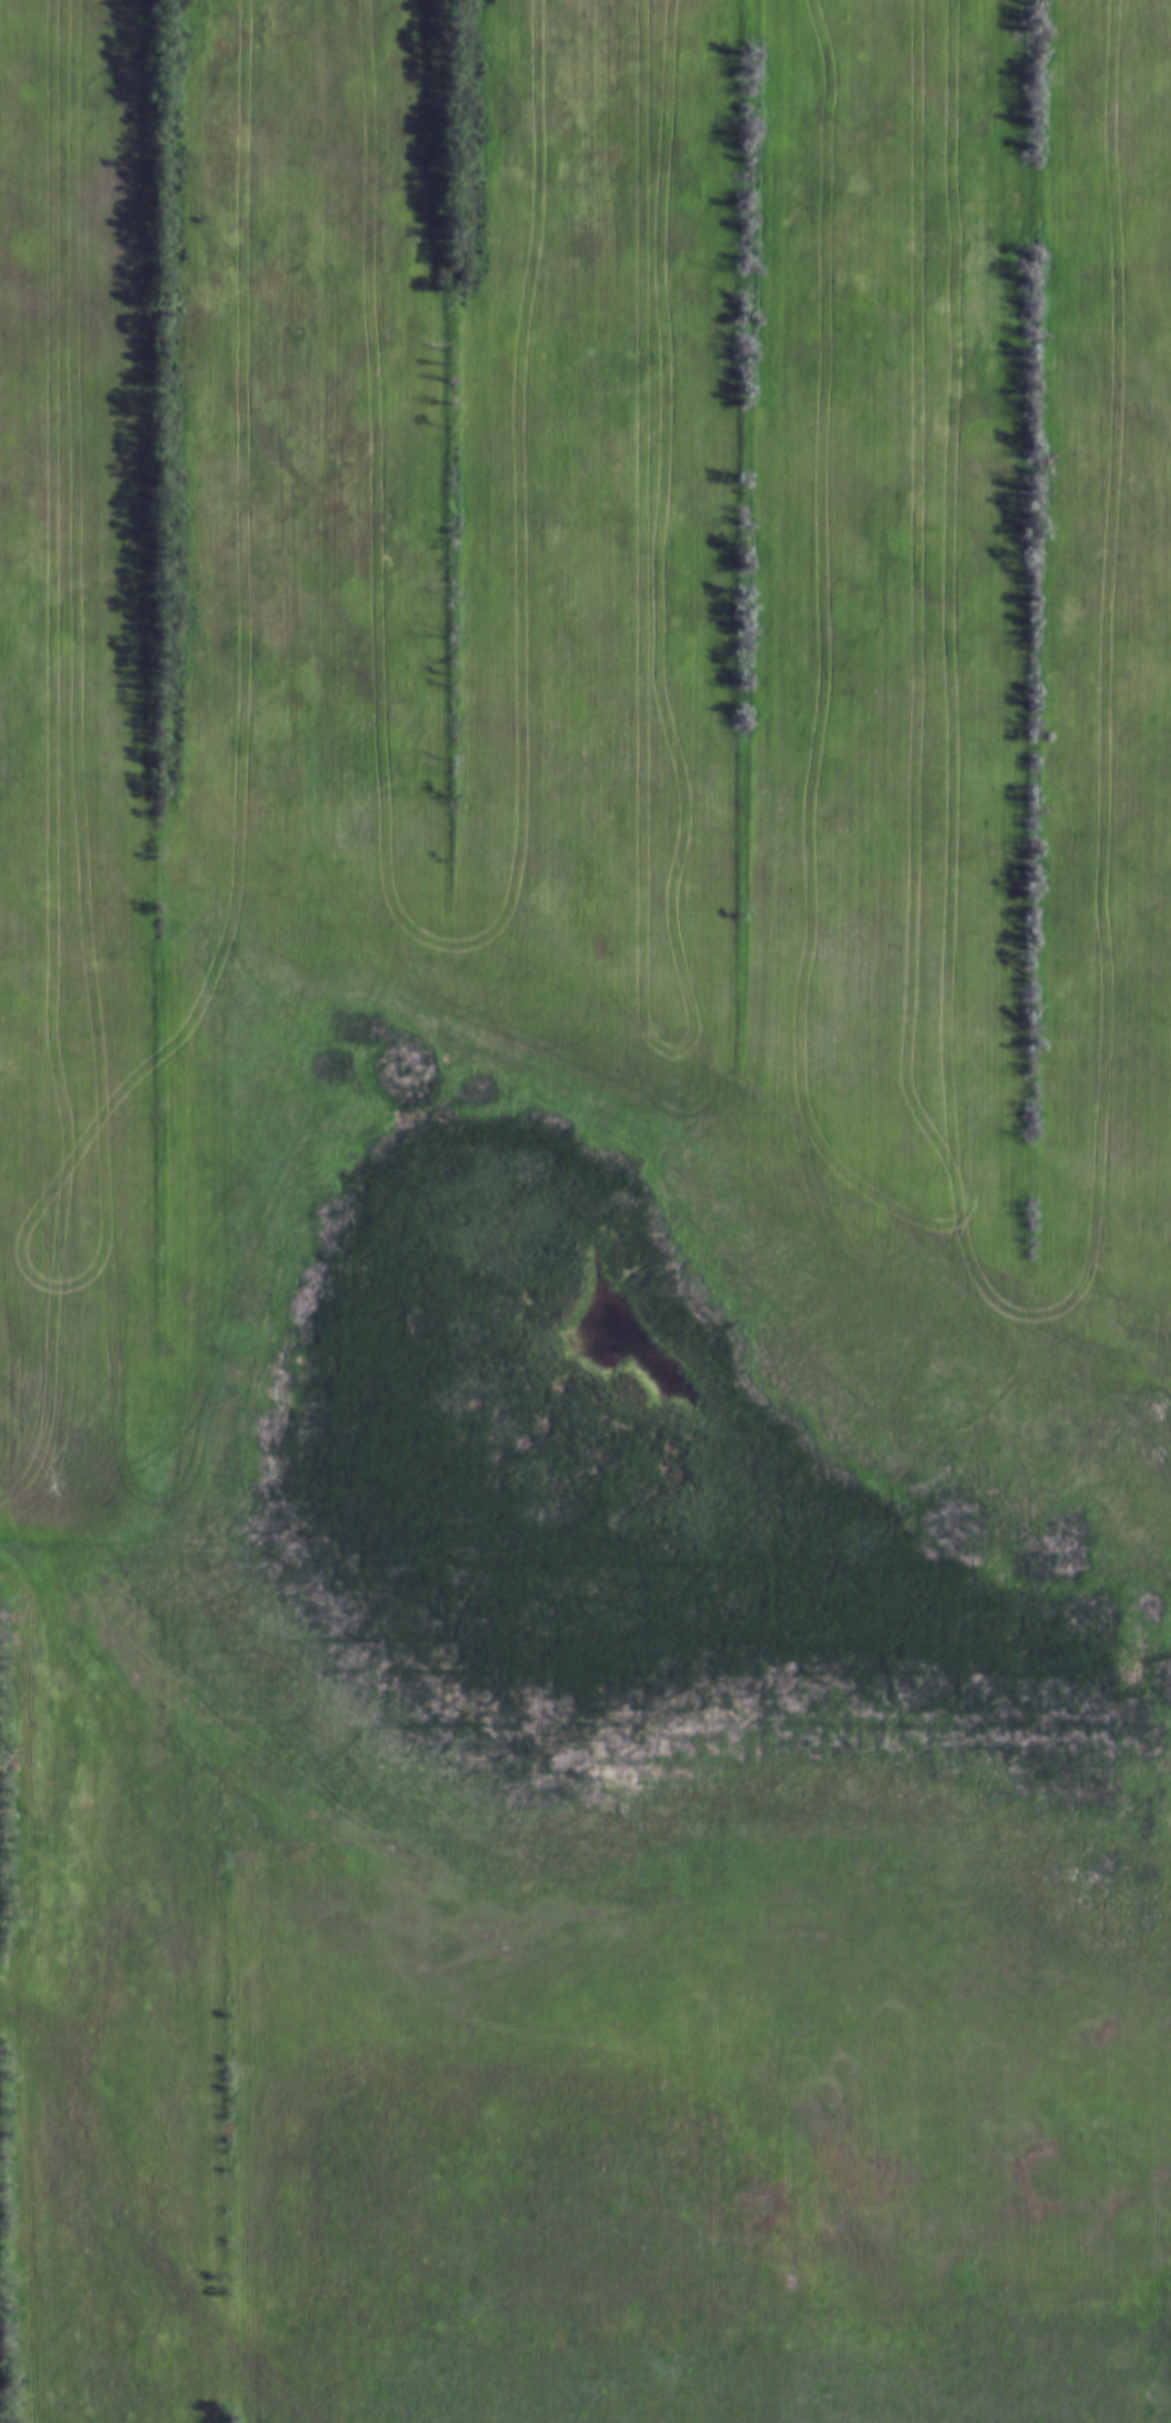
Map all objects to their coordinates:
road: (253, 2410)

